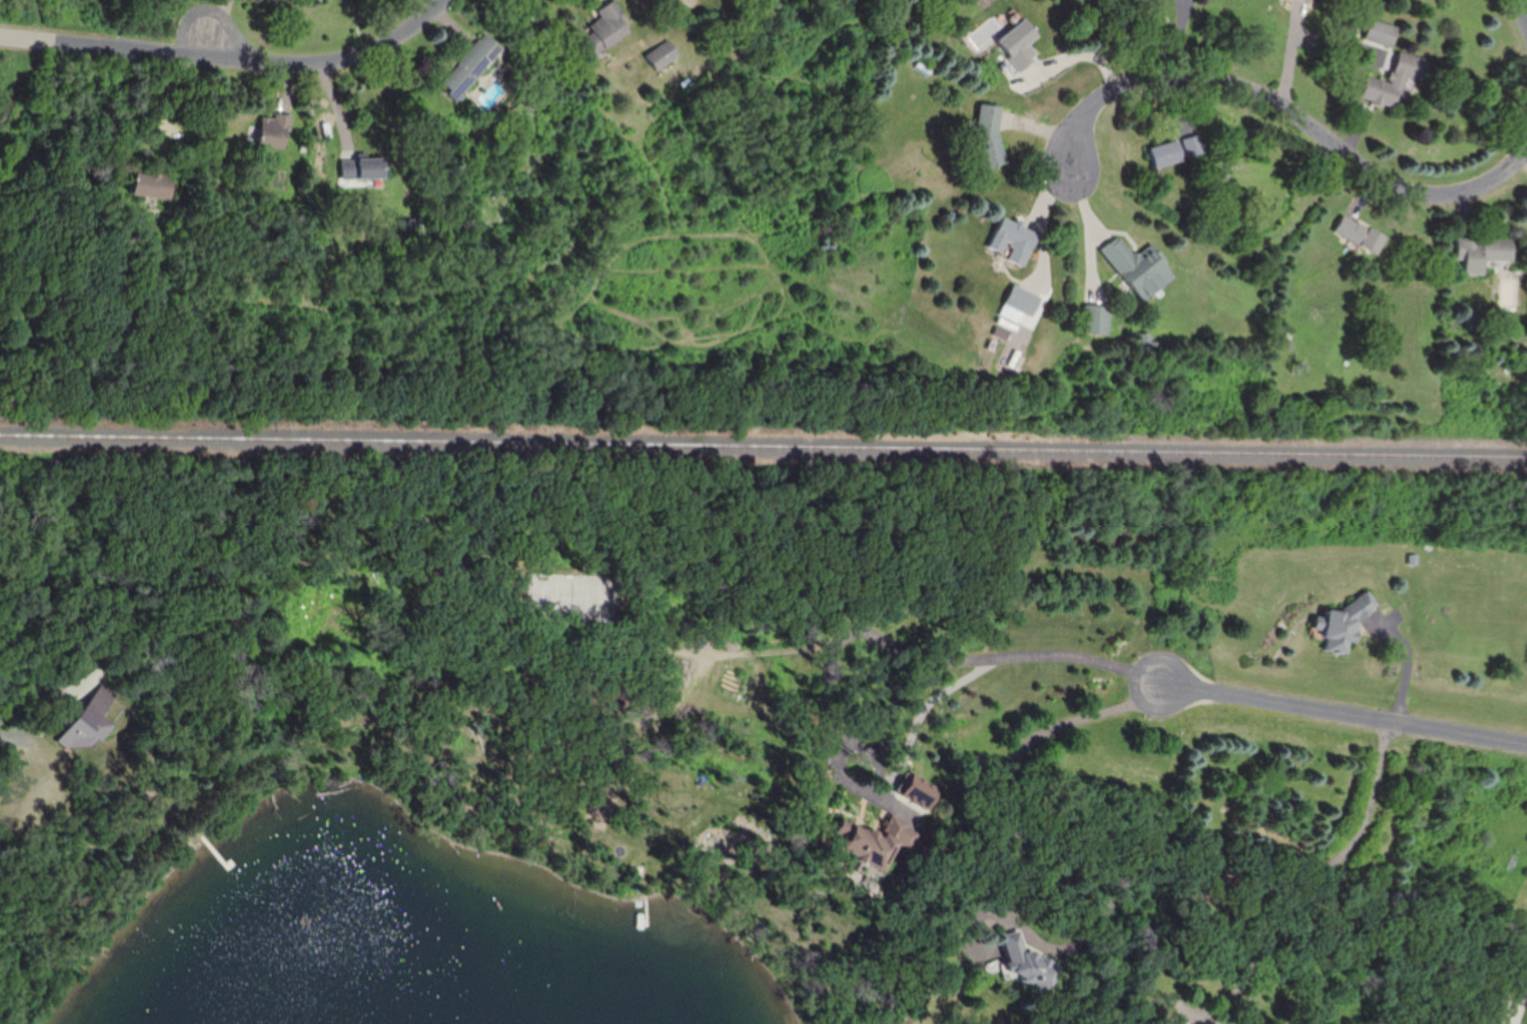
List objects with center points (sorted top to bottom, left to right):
building: (323, 0)
building: (681, 1)
building: (1306, 1)
road: (1525, 3)
building: (604, 28)
building: (1383, 33)
building: (1018, 44)
building: (661, 54)
road: (1080, 54)
road: (232, 59)
building: (470, 66)
building: (1397, 81)
road: (172, 86)
road: (1294, 116)
building: (273, 130)
building: (989, 135)
building: (1177, 150)
building: (362, 169)
building: (152, 184)
building: (409, 227)
building: (1360, 233)
building: (1014, 240)
building: (1482, 253)
building: (1140, 267)
building: (1024, 300)
building: (1097, 319)
railway: (763, 444)
building: (1343, 623)
road: (835, 642)
road: (1408, 663)
road: (1346, 715)
road: (40, 718)
building: (88, 722)
building: (870, 842)
road: (1327, 889)
road: (997, 908)
building: (1028, 964)
road: (1516, 972)
building: (1486, 1023)

